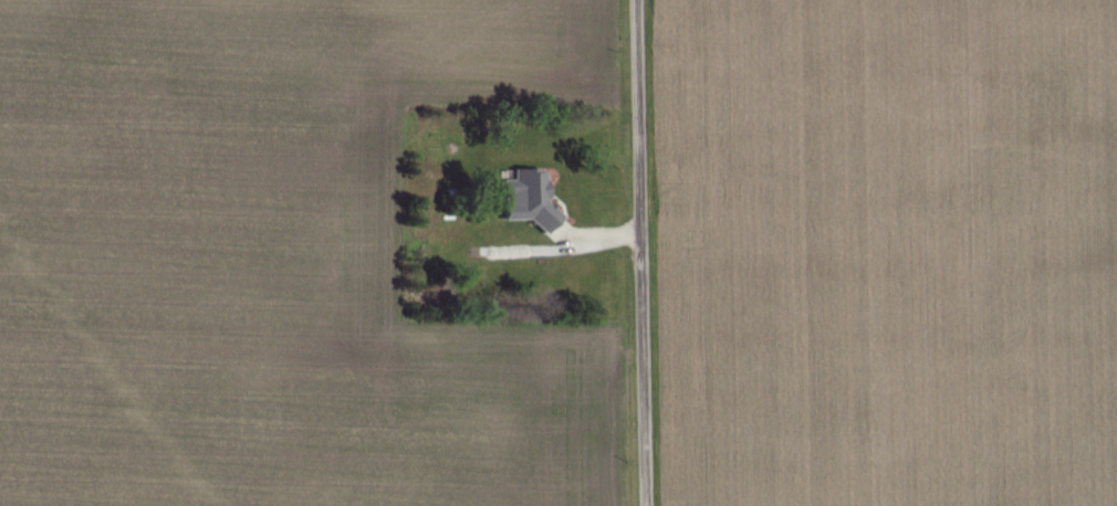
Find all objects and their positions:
road: (631, 253)

